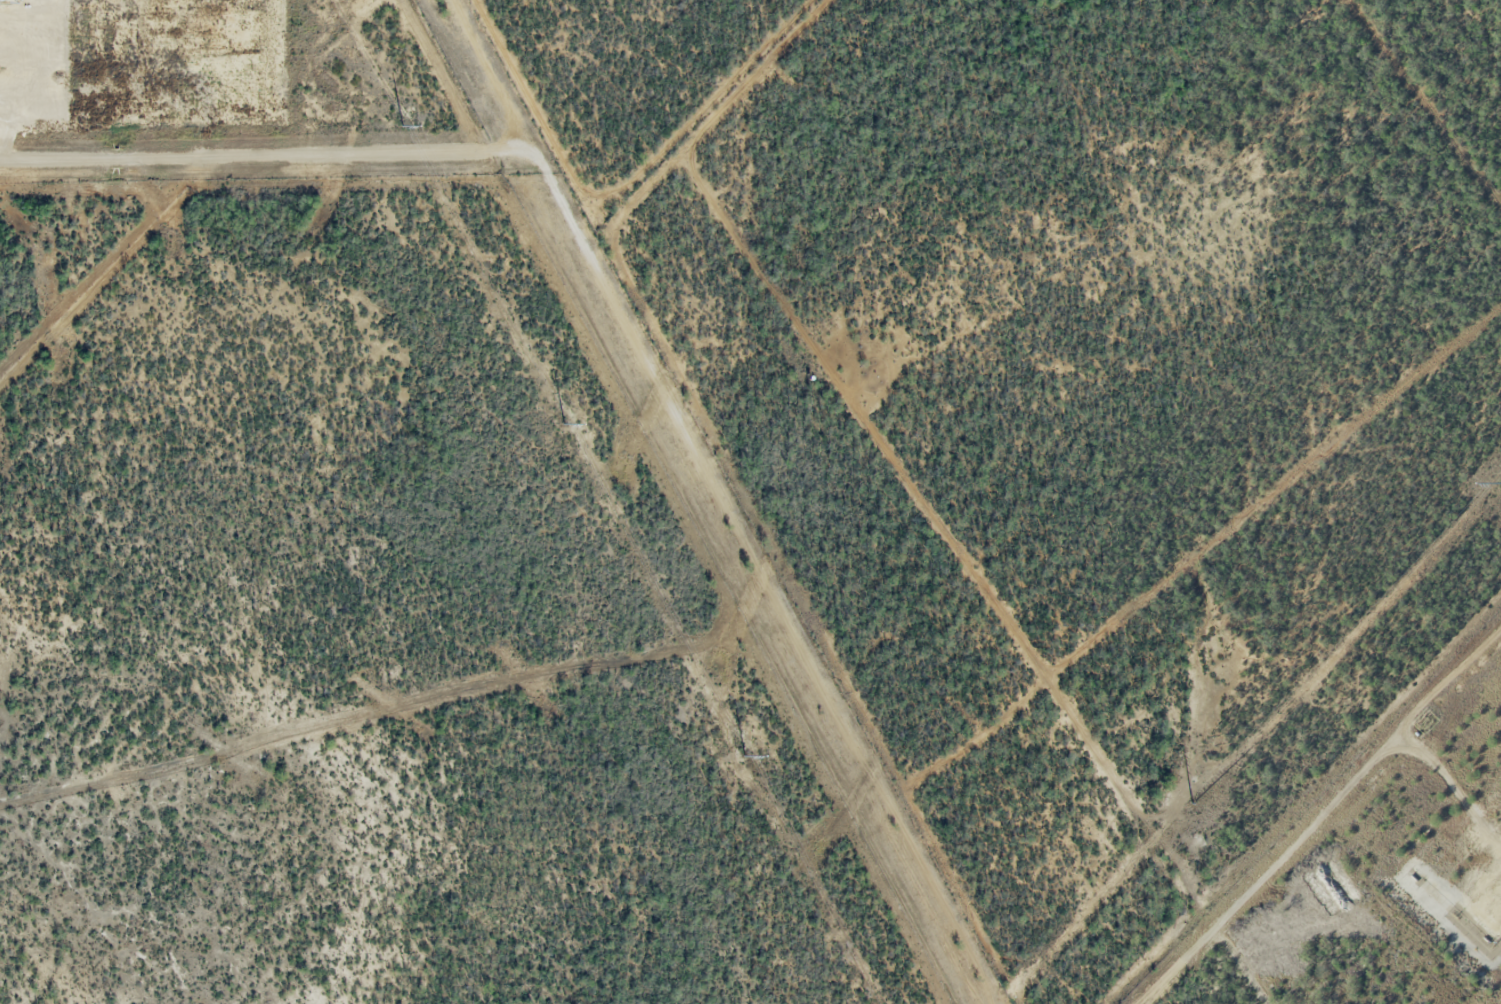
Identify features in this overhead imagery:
power tower: (402, 127)
power tower: (564, 424)
power tower: (1497, 486)
power tower: (741, 755)
power tower: (1191, 801)

